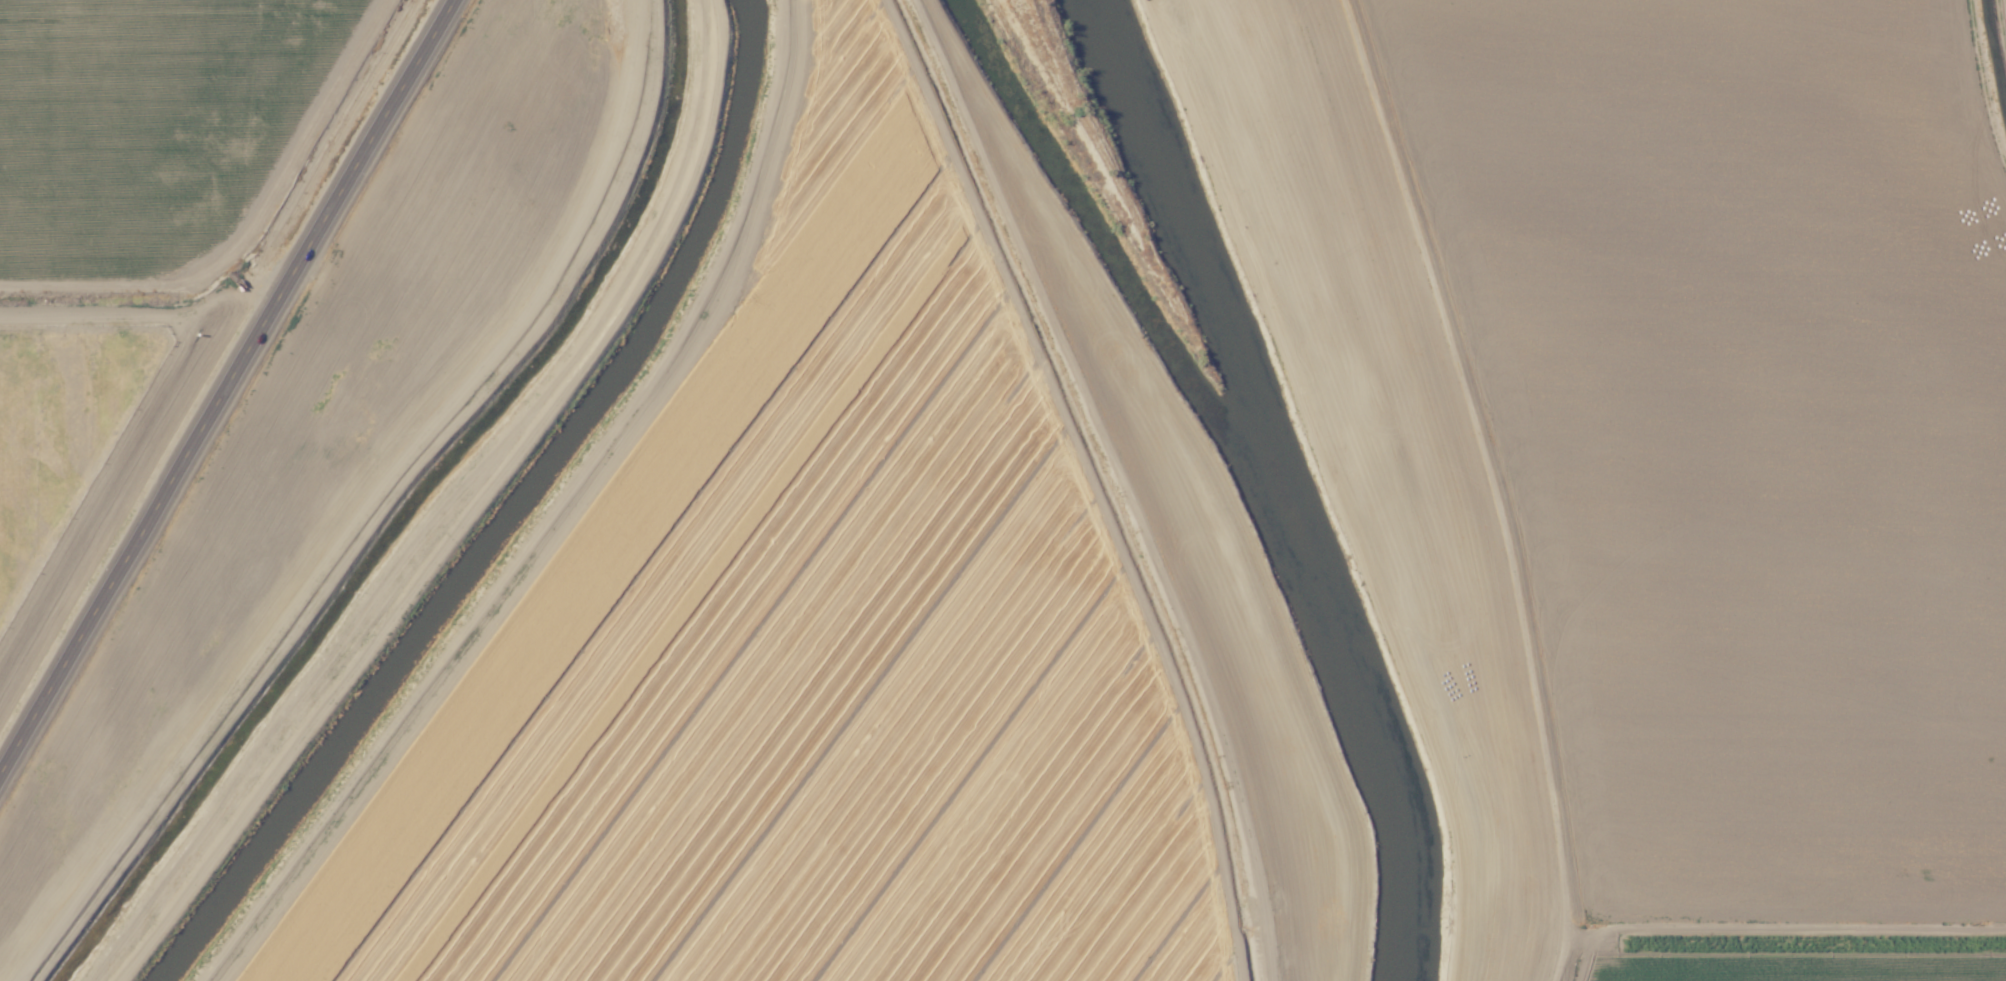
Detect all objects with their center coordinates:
crop: (141, 246)
road: (226, 388)
river: (1281, 478)
road: (1119, 481)
road: (1490, 483)
road: (552, 515)
crop: (793, 645)

